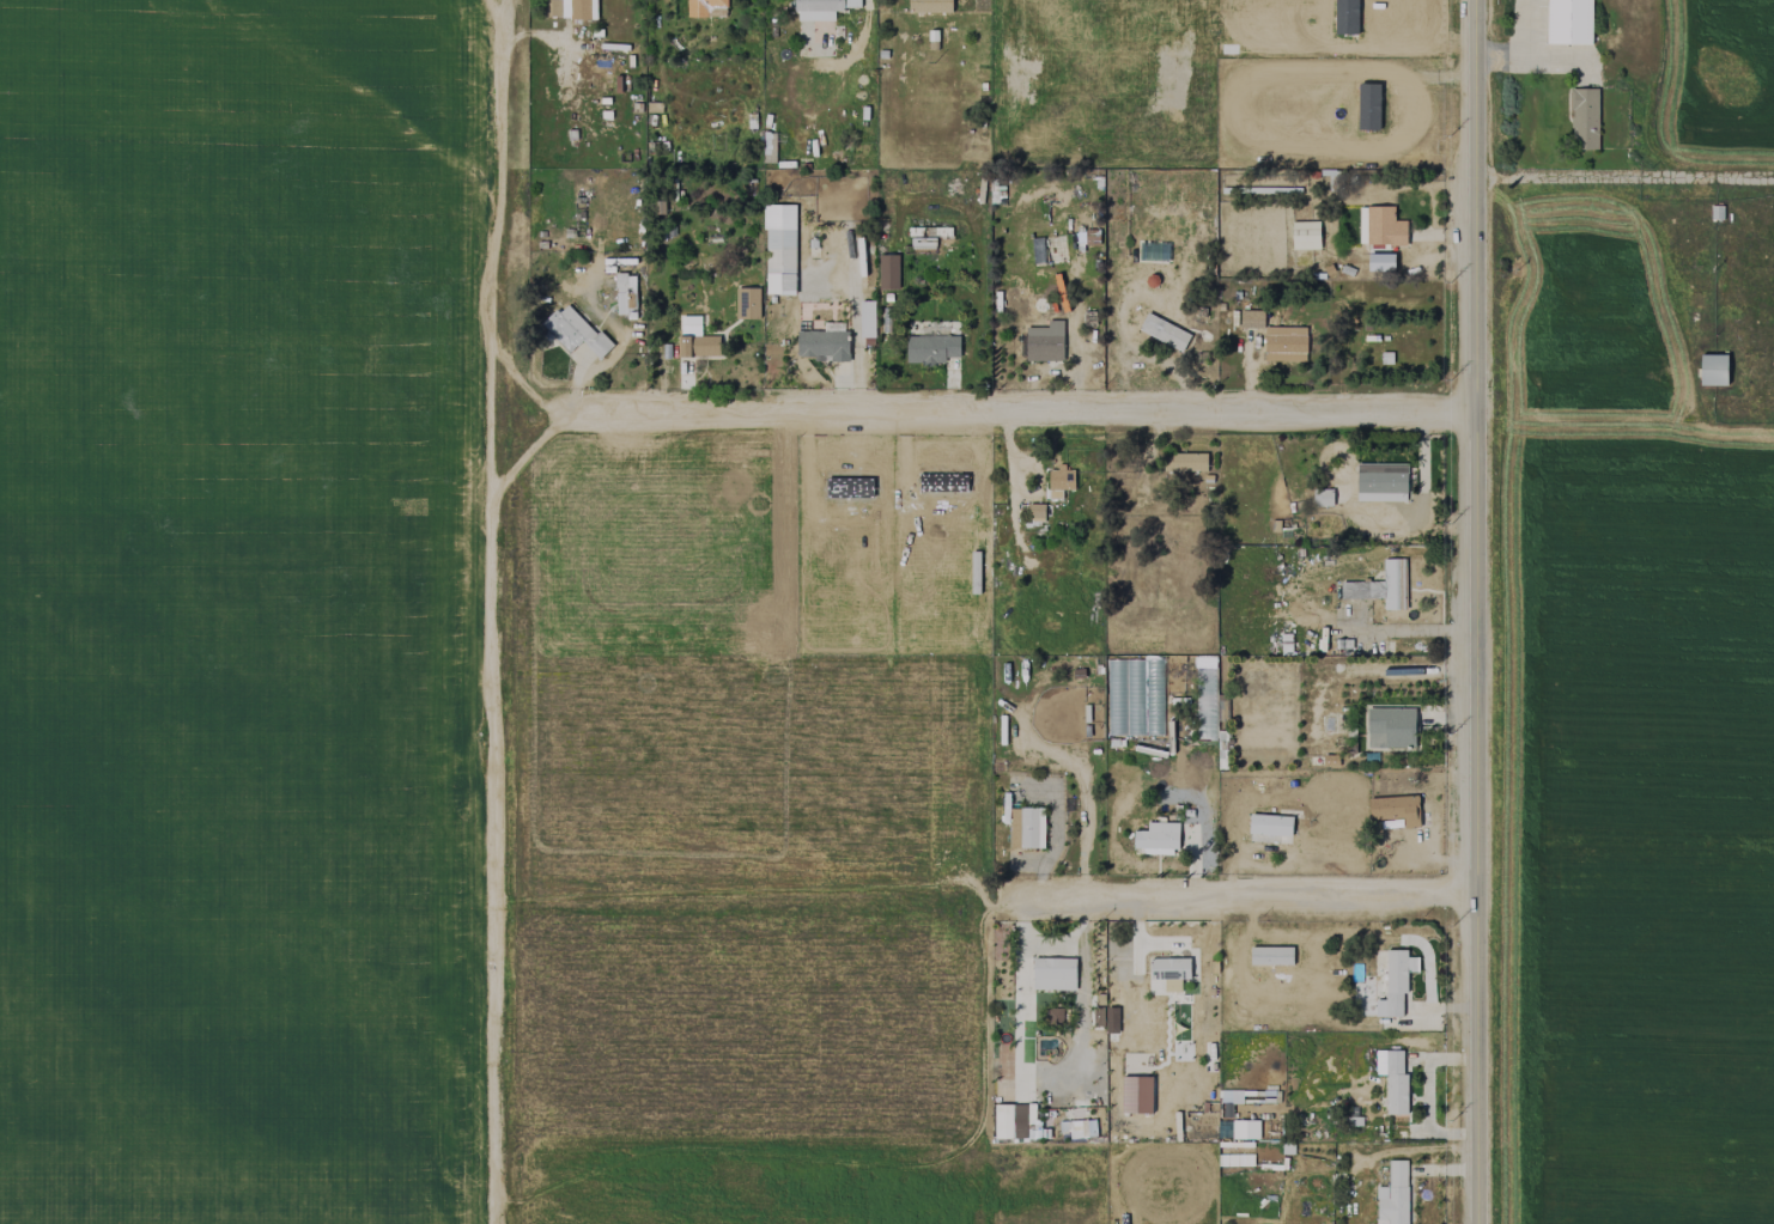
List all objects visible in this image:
building: (929, 6)
building: (578, 8)
building: (705, 8)
building: (821, 8)
building: (1568, 22)
building: (1584, 118)
road: (1624, 176)
building: (1380, 226)
building: (1305, 235)
building: (779, 249)
building: (1380, 261)
building: (887, 272)
building: (625, 294)
building: (747, 303)
building: (865, 318)
building: (1251, 318)
building: (578, 330)
building: (1164, 331)
building: (695, 339)
building: (1043, 342)
building: (1284, 343)
building: (822, 345)
building: (930, 348)
building: (1713, 370)
road: (518, 380)
road: (1014, 412)
road: (521, 458)
building: (1184, 462)
building: (1059, 482)
building: (1380, 482)
building: (1323, 497)
building: (1035, 513)
building: (1380, 585)
road: (490, 611)
road: (1476, 611)
building: (1126, 714)
building: (1390, 727)
building: (1396, 809)
building: (1269, 824)
building: (1026, 827)
building: (1156, 839)
road: (1258, 896)
road: (1064, 940)
building: (1168, 972)
building: (1052, 974)
building: (1396, 979)
road: (1020, 988)
building: (1053, 1016)
building: (1395, 1083)
building: (1136, 1095)
building: (1015, 1121)
building: (1238, 1128)
building: (1392, 1195)

